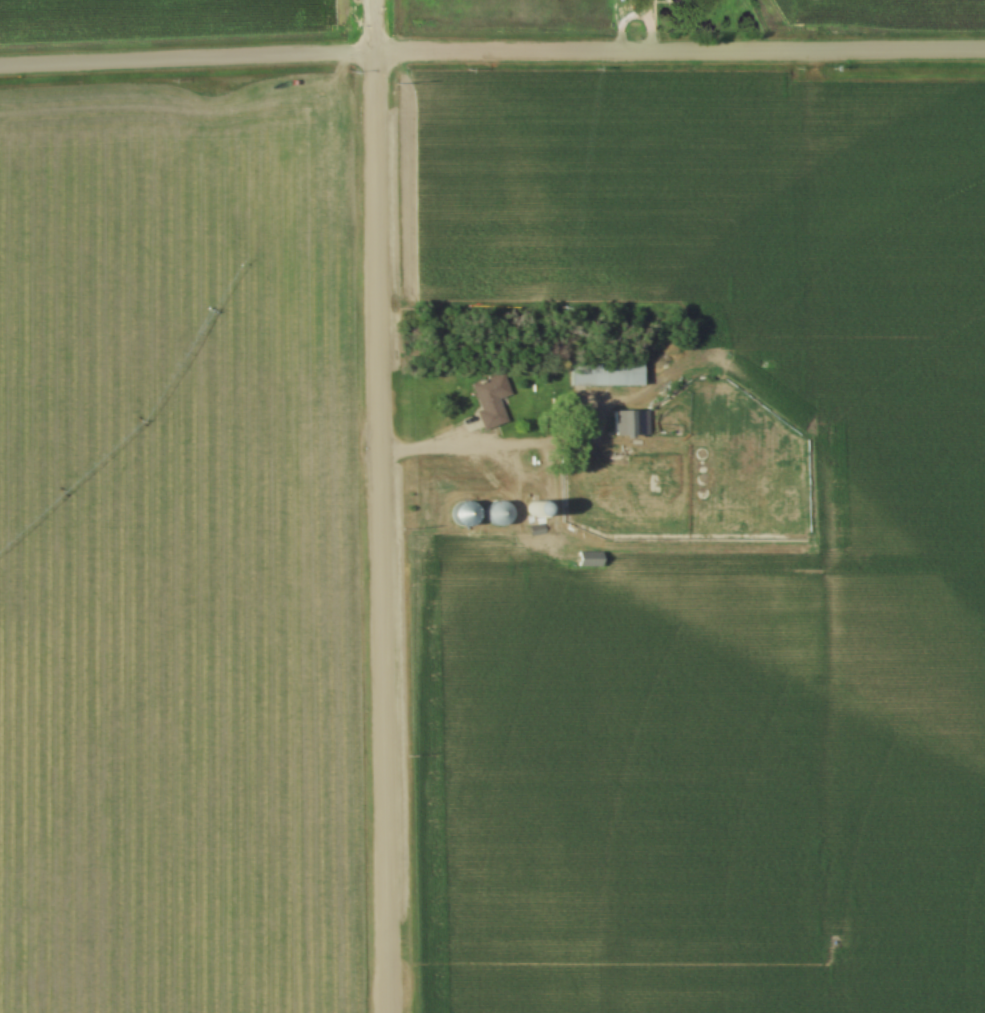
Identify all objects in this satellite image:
crop: (887, 9)
crop: (475, 12)
crop: (166, 18)
road: (651, 26)
road: (492, 52)
crop: (605, 199)
building: (603, 376)
building: (489, 400)
building: (633, 425)
road: (382, 506)
silo: (532, 510)
silo: (496, 513)
building: (492, 514)
building: (459, 515)
silo: (460, 515)
crop: (178, 548)
building: (588, 560)
crop: (748, 677)

